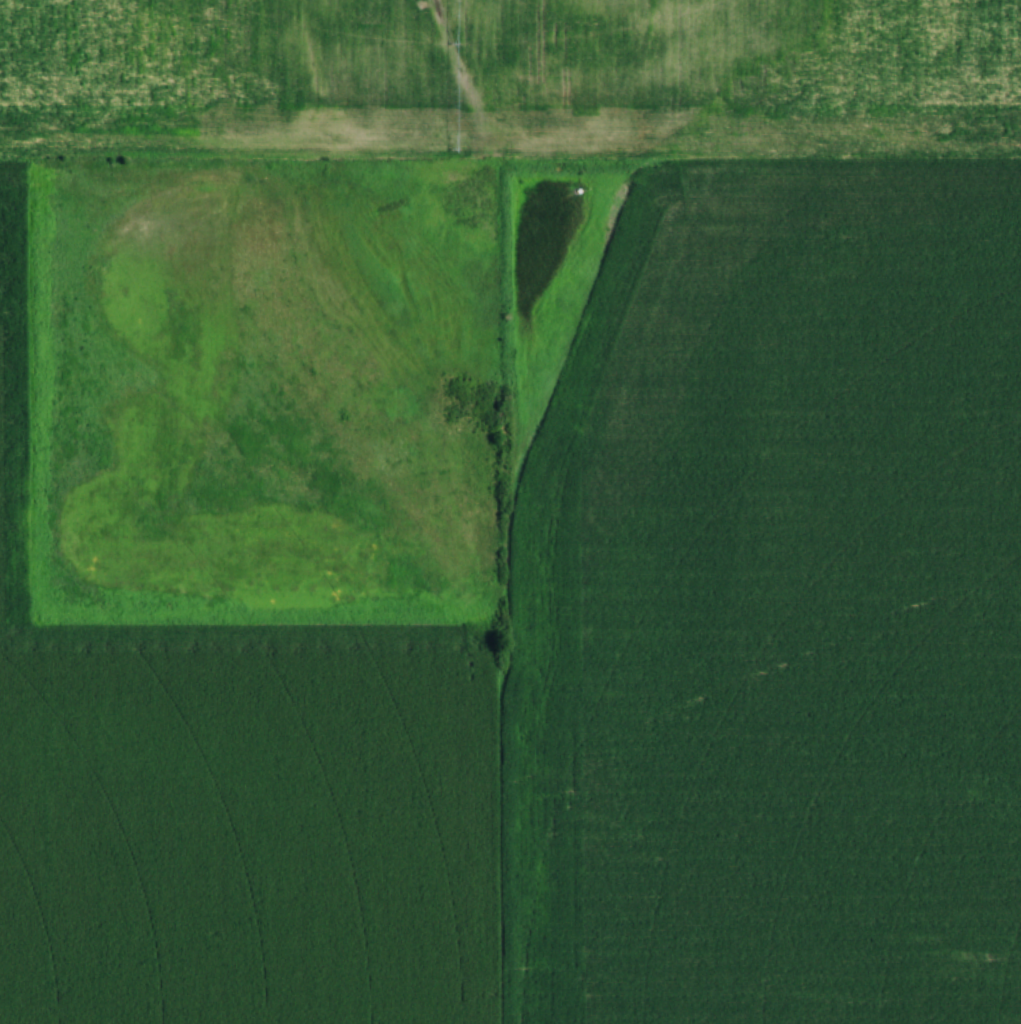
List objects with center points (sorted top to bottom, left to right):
crop: (242, 822)

